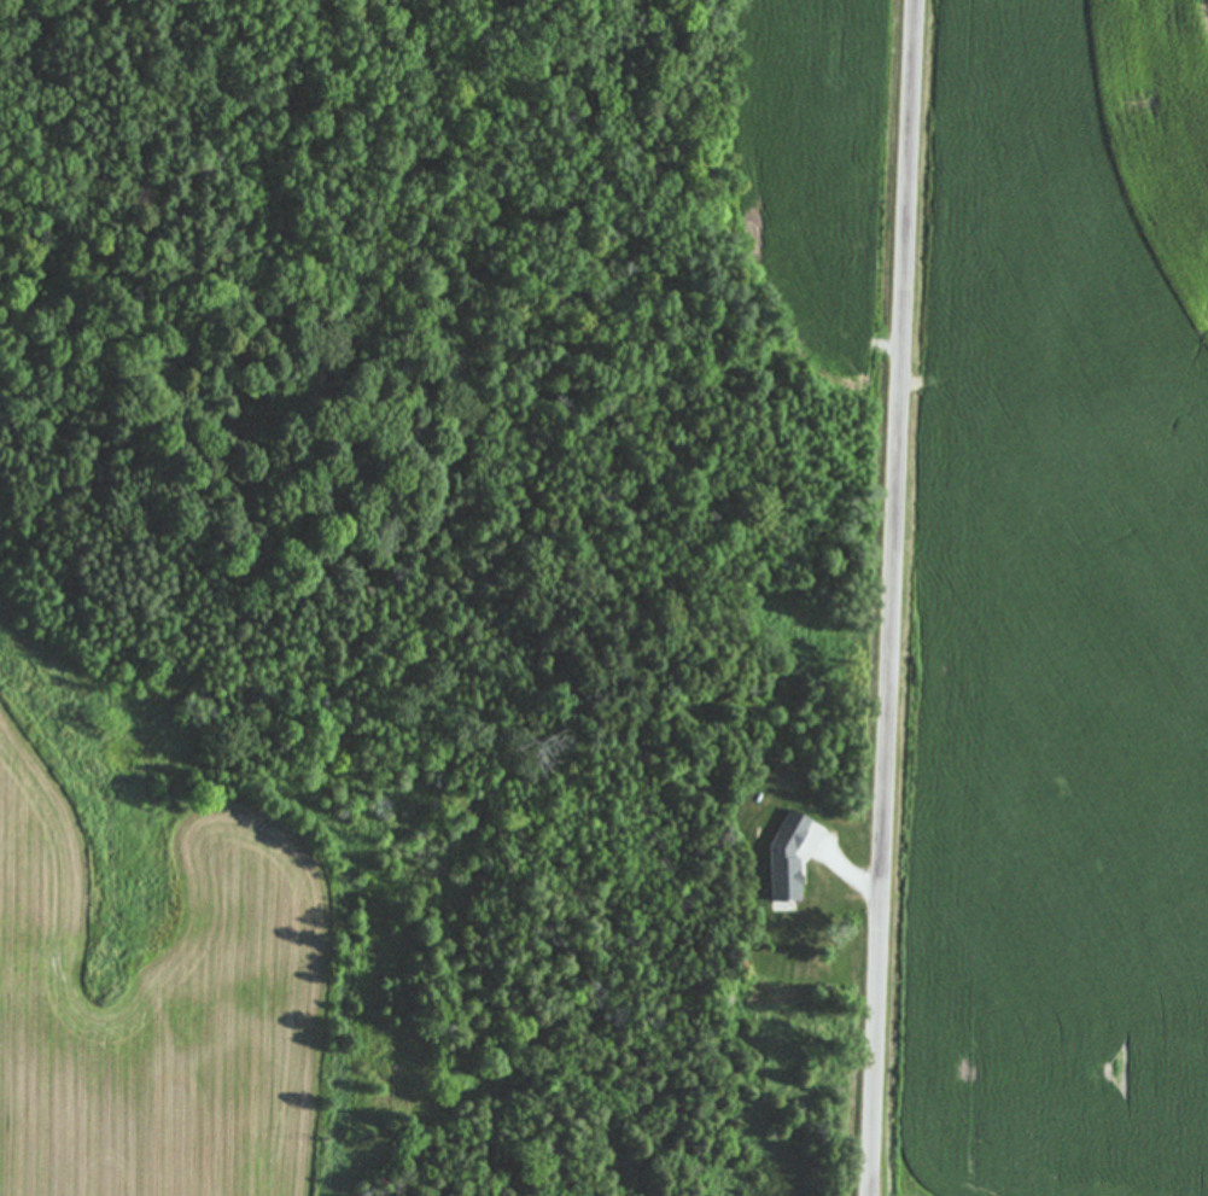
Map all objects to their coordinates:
road: (895, 597)
building: (793, 859)

